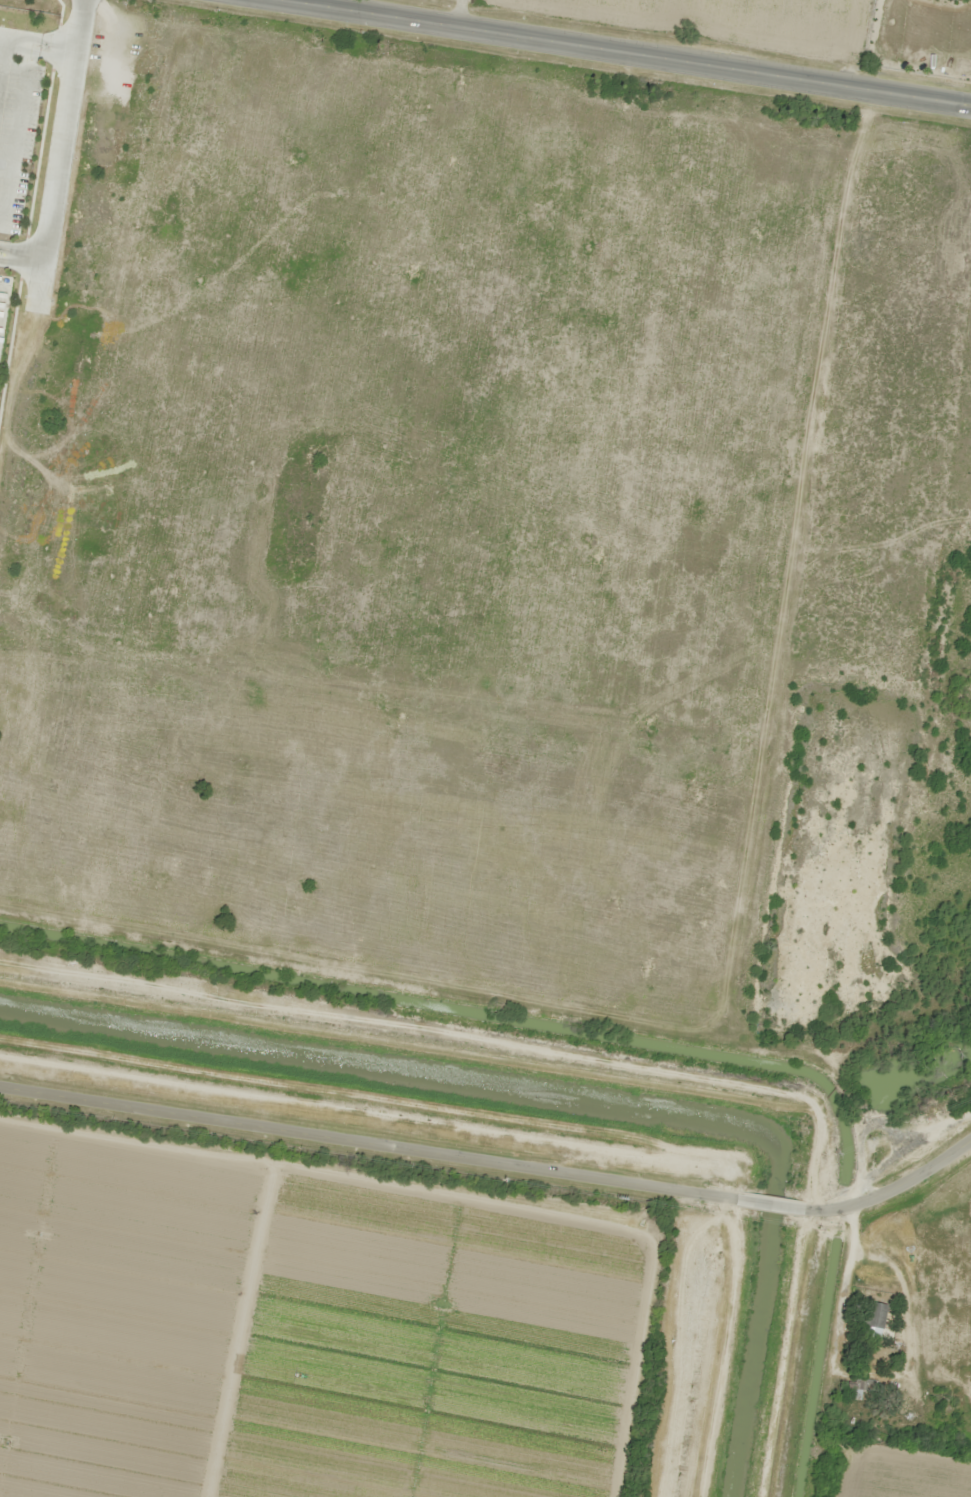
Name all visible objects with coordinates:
road: (629, 52)
building: (146, 92)
road: (368, 1143)
road: (889, 1184)
road: (769, 1204)
building: (871, 1315)
building: (862, 1385)

